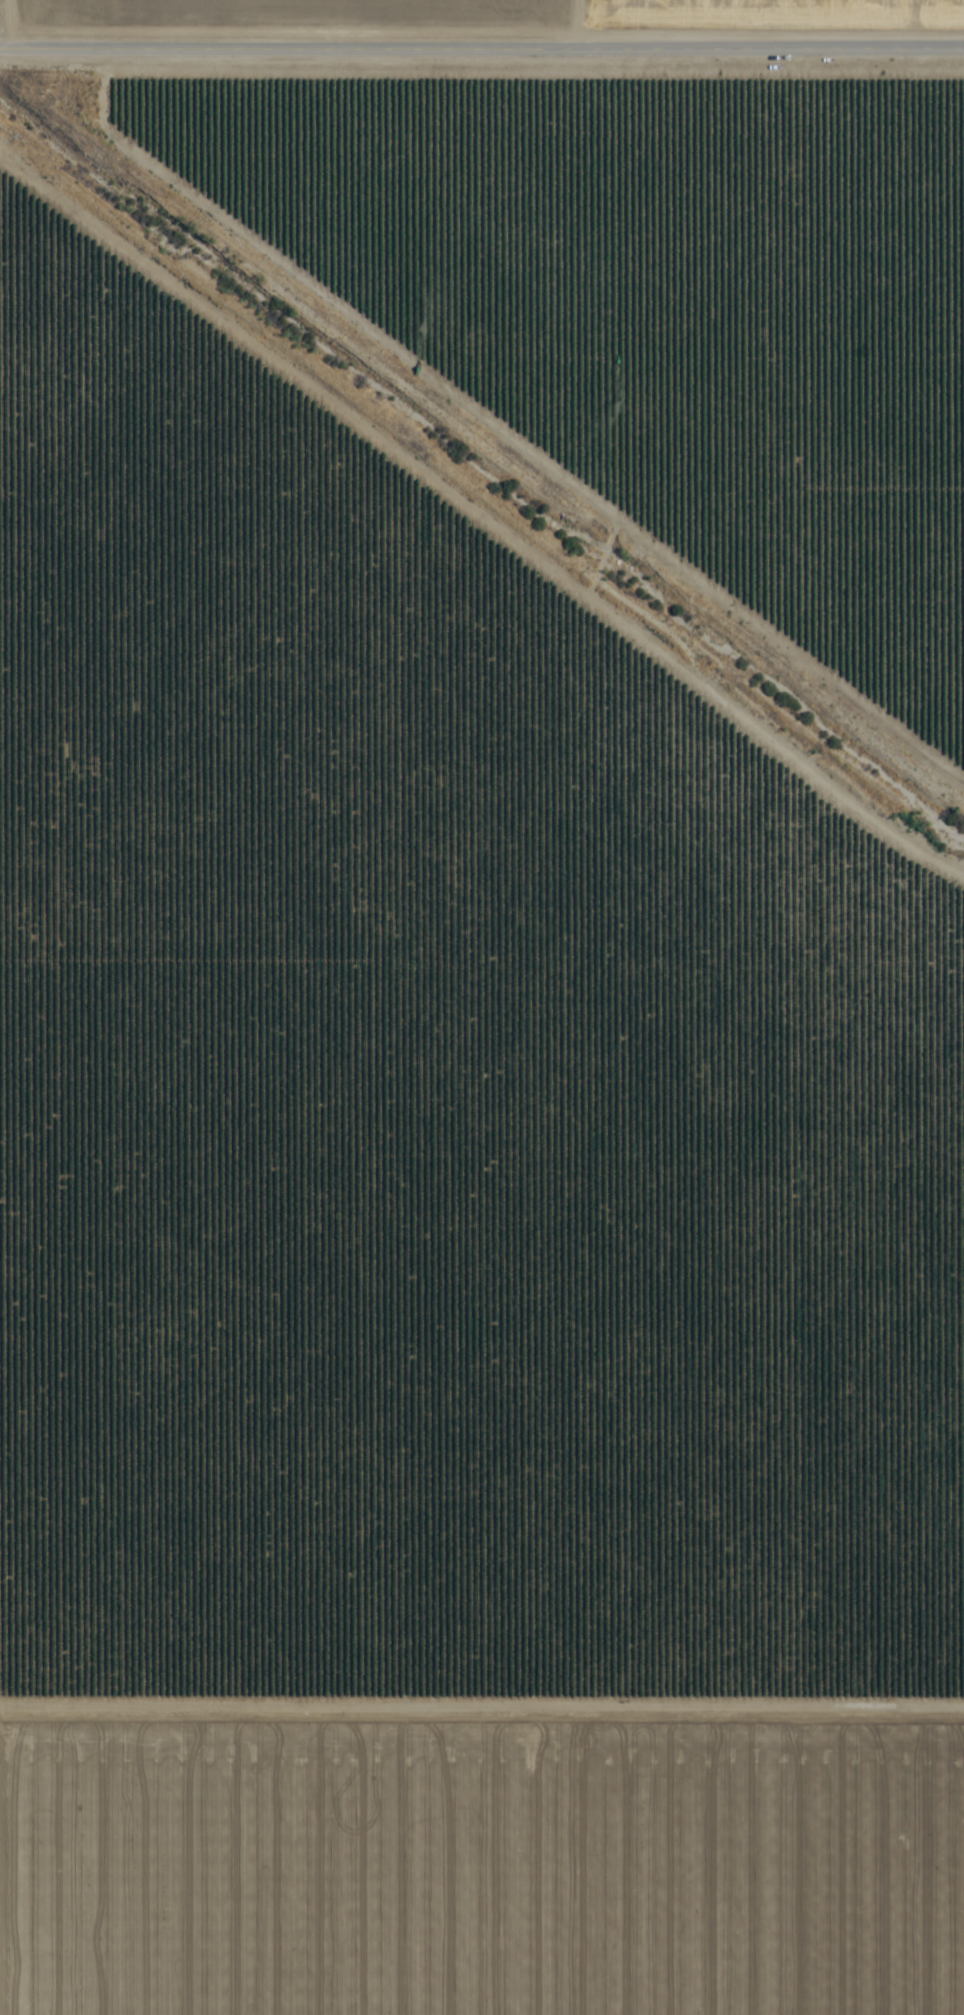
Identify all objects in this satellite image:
road: (482, 46)
crop: (482, 1007)
road: (482, 1698)

